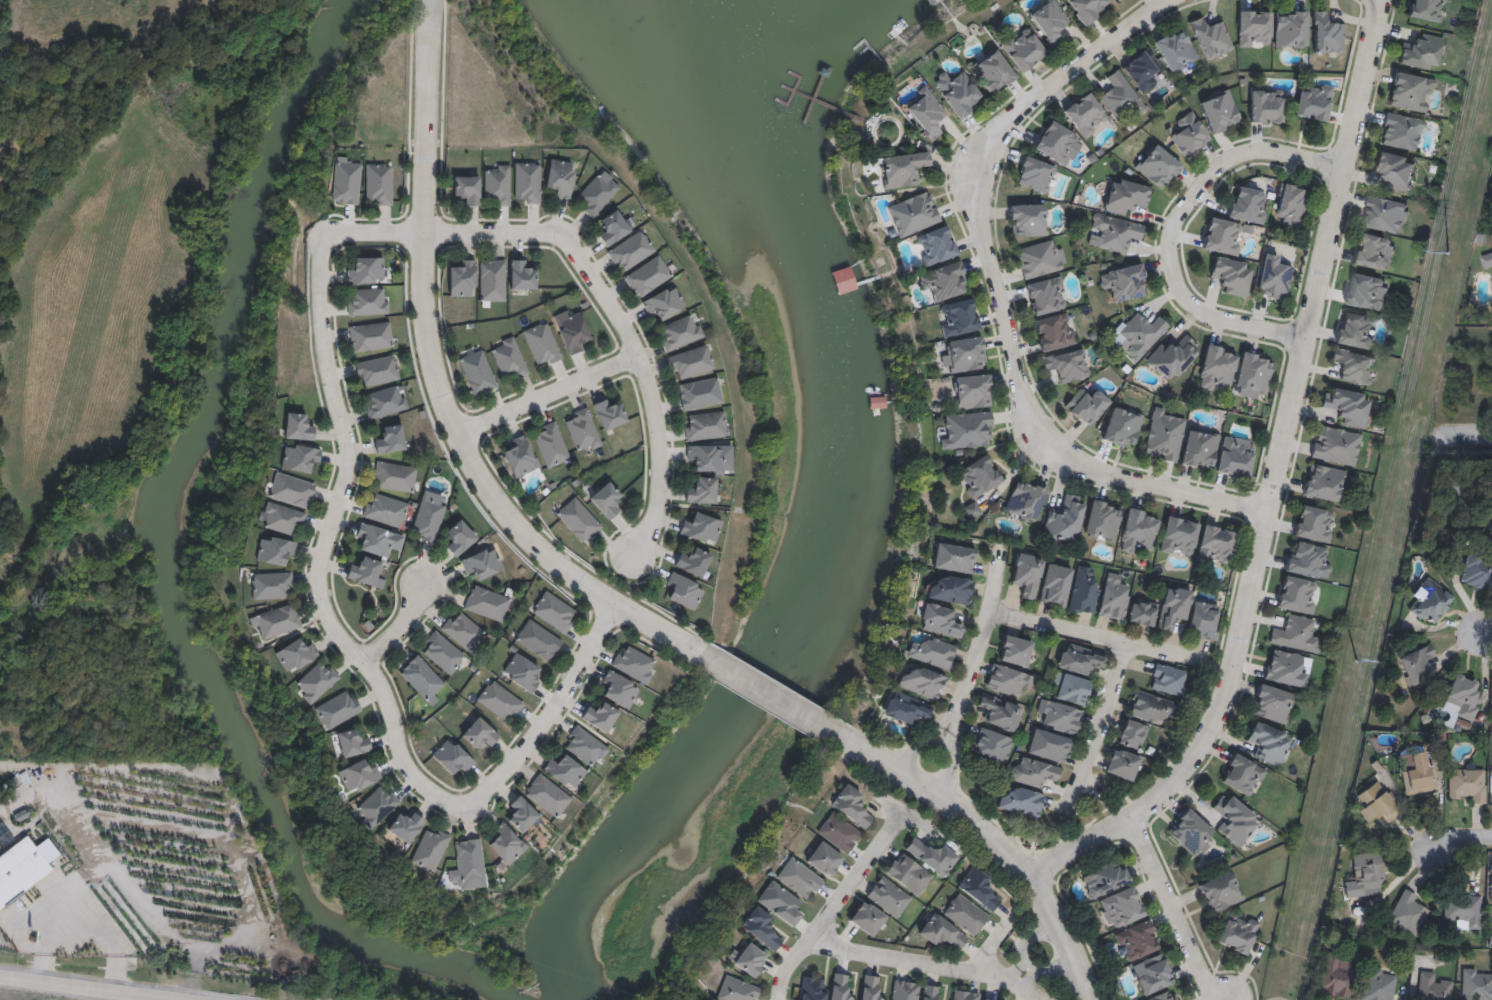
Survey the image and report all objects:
building: (1116, 0)
building: (1087, 8)
building: (1050, 21)
building: (1254, 28)
building: (1291, 29)
building: (1327, 34)
building: (1211, 37)
building: (1023, 48)
building: (1176, 49)
building: (1142, 70)
building: (991, 71)
building: (957, 92)
building: (1121, 96)
building: (1313, 100)
building: (1266, 104)
building: (1220, 111)
building: (1085, 114)
building: (926, 115)
road: (428, 119)
building: (1188, 133)
building: (1057, 143)
building: (1158, 166)
building: (902, 169)
building: (1035, 173)
building: (560, 177)
building: (346, 182)
building: (527, 182)
building: (378, 184)
building: (468, 189)
building: (596, 193)
building: (1125, 196)
building: (1248, 204)
building: (1292, 204)
building: (913, 214)
building: (1027, 220)
road: (1175, 224)
building: (614, 226)
building: (1115, 232)
building: (1222, 236)
road: (442, 238)
building: (935, 245)
building: (630, 251)
power tower: (1446, 253)
building: (1038, 258)
building: (366, 270)
building: (522, 275)
building: (1232, 275)
building: (647, 276)
building: (1273, 277)
building: (463, 279)
building: (492, 280)
building: (944, 280)
building: (1124, 282)
road: (992, 290)
building: (1046, 295)
building: (368, 302)
building: (663, 302)
building: (958, 317)
building: (571, 330)
building: (1355, 330)
building: (1054, 331)
building: (679, 332)
building: (1139, 334)
building: (370, 336)
building: (542, 344)
building: (1172, 356)
building: (509, 358)
building: (691, 362)
building: (1067, 364)
building: (1354, 366)
building: (1217, 367)
building: (377, 371)
building: (478, 372)
building: (1253, 374)
road: (643, 390)
building: (971, 391)
building: (699, 393)
building: (385, 402)
building: (1086, 404)
building: (1348, 406)
road: (549, 413)
building: (609, 414)
building: (705, 425)
building: (298, 426)
building: (1122, 426)
building: (582, 430)
building: (967, 430)
road: (1468, 432)
building: (1164, 435)
building: (390, 439)
building: (551, 444)
building: (1335, 445)
building: (1200, 448)
building: (521, 456)
building: (1236, 456)
building: (300, 457)
building: (707, 470)
building: (394, 476)
building: (978, 476)
road: (1268, 478)
building: (292, 490)
building: (606, 499)
building: (1025, 500)
road: (494, 503)
building: (386, 510)
building: (972, 510)
building: (281, 518)
building: (428, 519)
building: (578, 519)
building: (1065, 519)
building: (1103, 520)
building: (701, 528)
building: (1138, 530)
building: (1179, 536)
building: (459, 537)
building: (378, 539)
building: (1216, 544)
road: (325, 545)
building: (275, 550)
building: (954, 557)
building: (693, 561)
river: (171, 562)
building: (482, 562)
building: (366, 572)
building: (1027, 574)
building: (1055, 584)
building: (272, 585)
building: (950, 589)
building: (684, 590)
building: (1084, 591)
building: (1113, 597)
building: (486, 603)
building: (1174, 606)
building: (555, 611)
building: (1142, 612)
building: (940, 620)
building: (1203, 620)
building: (276, 621)
road: (401, 625)
building: (463, 630)
road: (1485, 633)
road: (983, 634)
road: (1097, 636)
building: (538, 639)
building: (1015, 651)
building: (442, 652)
building: (932, 652)
building: (295, 655)
building: (1080, 658)
power tower: (1356, 662)
road: (1219, 663)
building: (635, 664)
building: (522, 672)
building: (423, 678)
building: (1007, 679)
building: (1169, 679)
building: (316, 681)
building: (922, 682)
building: (619, 688)
building: (1071, 688)
building: (500, 700)
road: (782, 706)
building: (1152, 707)
building: (906, 708)
building: (338, 709)
building: (999, 712)
road: (544, 715)
building: (600, 716)
building: (1060, 716)
road: (1094, 726)
building: (480, 733)
building: (1132, 733)
road: (925, 739)
building: (352, 742)
building: (585, 745)
building: (991, 745)
building: (1048, 745)
road: (949, 751)
building: (452, 756)
building: (1122, 764)
building: (565, 771)
building: (1033, 771)
building: (358, 775)
building: (547, 795)
road: (941, 802)
building: (1021, 802)
building: (376, 806)
building: (851, 806)
building: (522, 814)
building: (406, 826)
building: (1190, 831)
building: (838, 832)
road: (1462, 836)
building: (506, 843)
building: (430, 848)
building: (932, 855)
building: (824, 858)
building: (468, 864)
building: (22, 865)
building: (908, 873)
building: (799, 878)
building: (1104, 879)
building: (979, 888)
building: (1220, 891)
road: (52, 893)
building: (888, 896)
road: (833, 905)
building: (1121, 907)
road: (1174, 907)
building: (965, 913)
building: (866, 917)
building: (761, 928)
building: (941, 931)
road: (1067, 931)
building: (1237, 934)
building: (1136, 939)
road: (993, 944)
road: (1026, 944)
building: (749, 959)
road: (927, 962)
road: (41, 967)
road: (1046, 968)
building: (1152, 973)
road: (116, 974)
road: (81, 987)
building: (840, 987)
building: (811, 988)
building: (870, 988)
building: (737, 989)
building: (913, 991)
building: (964, 995)
building: (986, 999)

